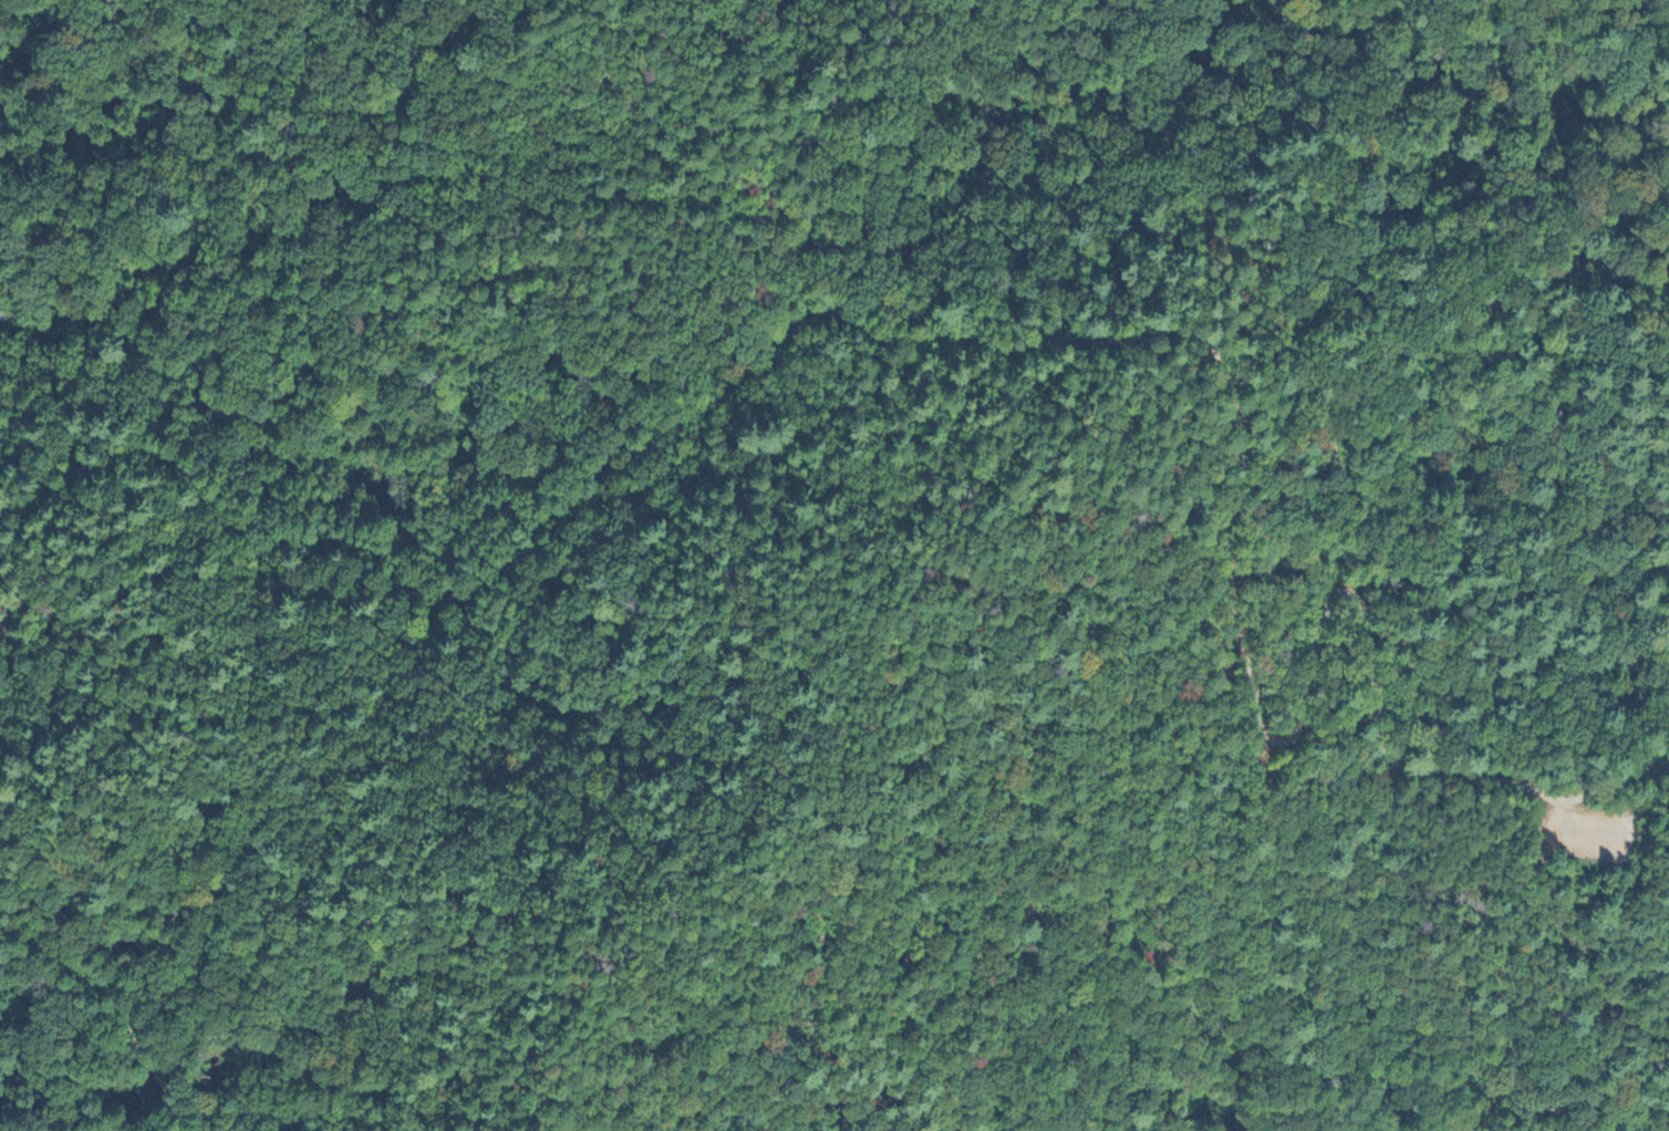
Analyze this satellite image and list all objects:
road: (1066, 341)
road: (12, 676)
road: (121, 1000)

